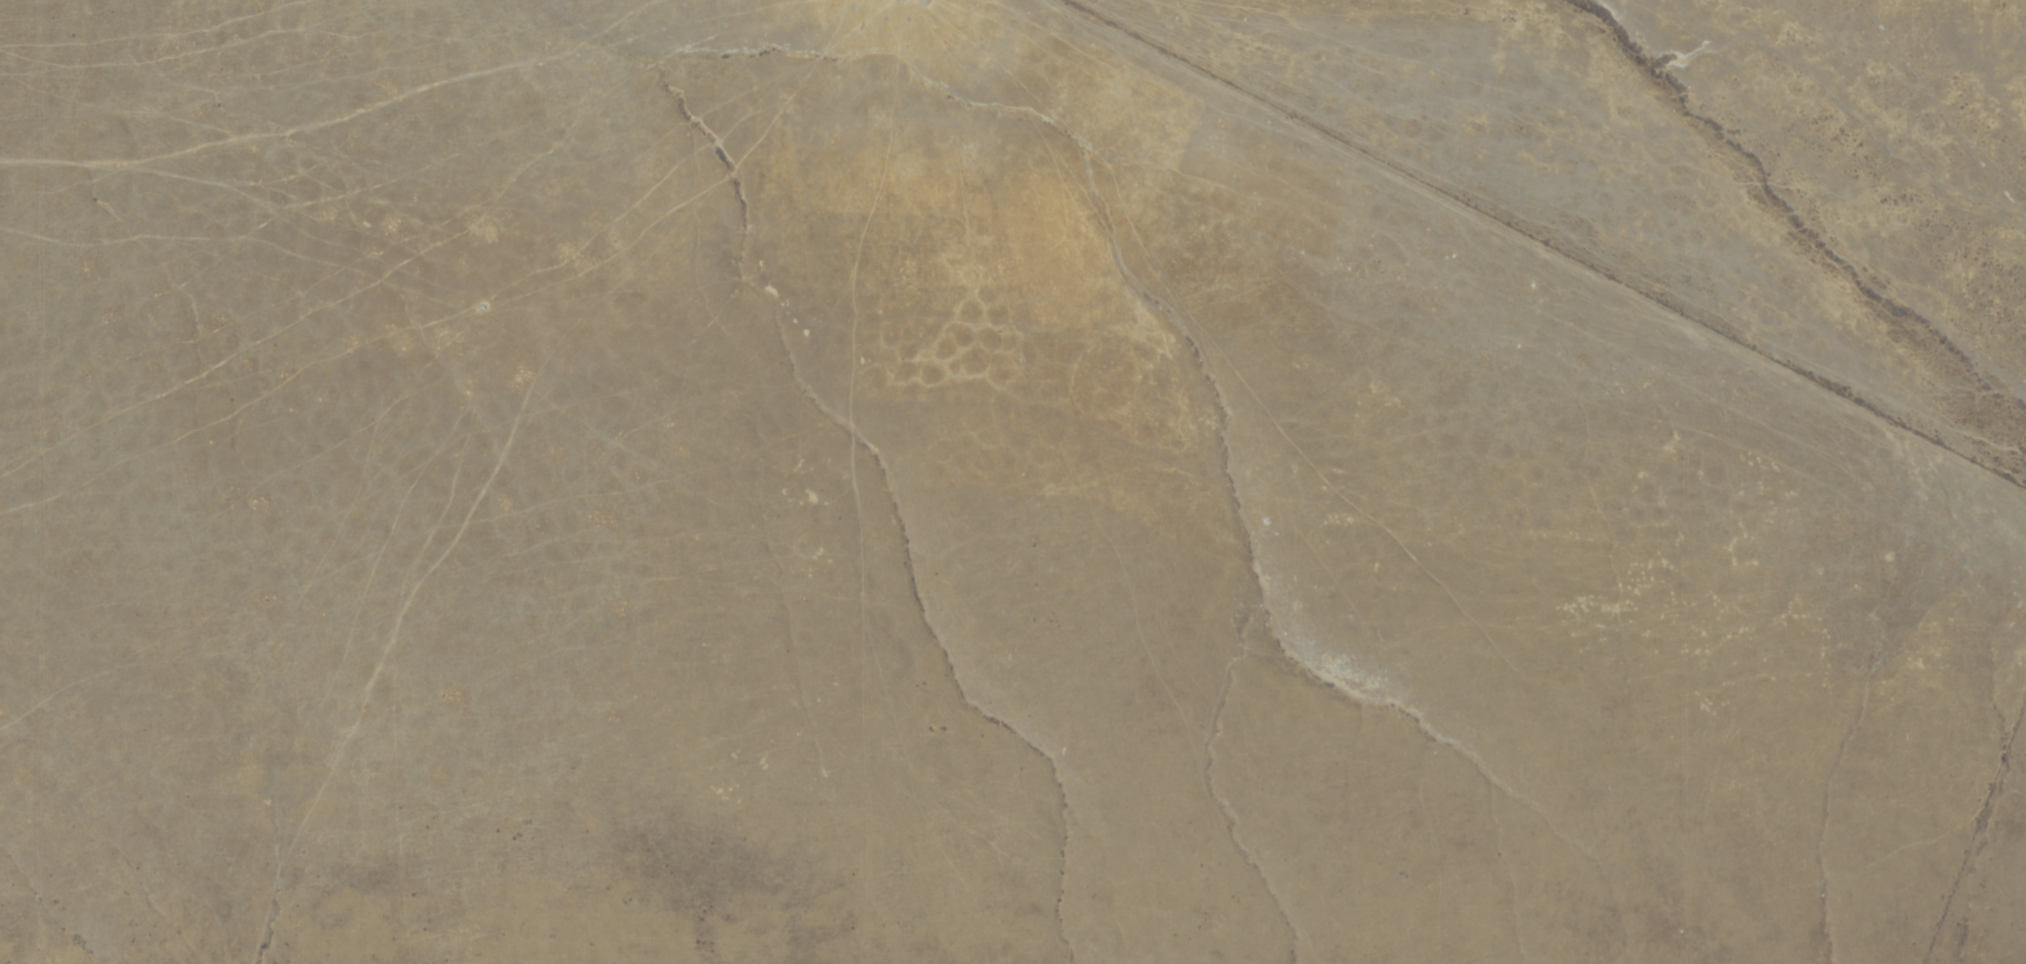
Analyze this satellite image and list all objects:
road: (1938, 115)

